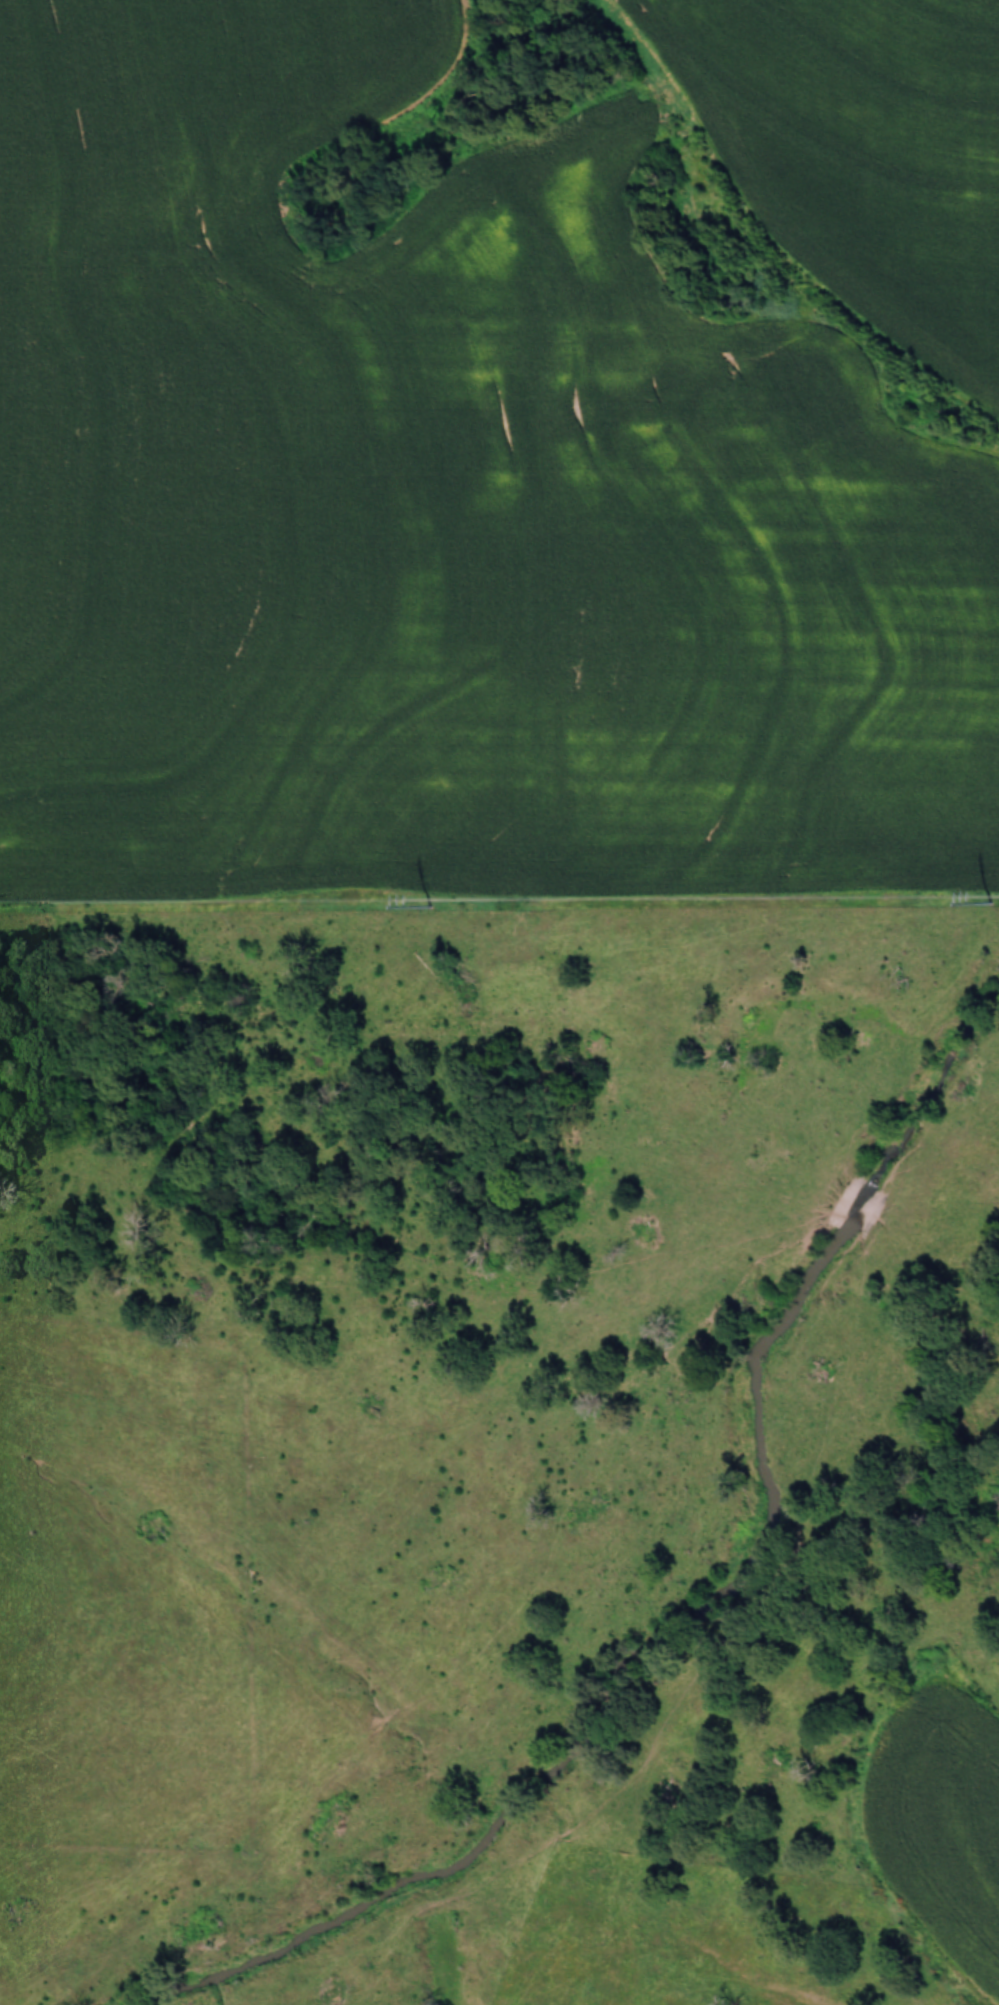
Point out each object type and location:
power tower: (985, 897)
power tower: (425, 904)

